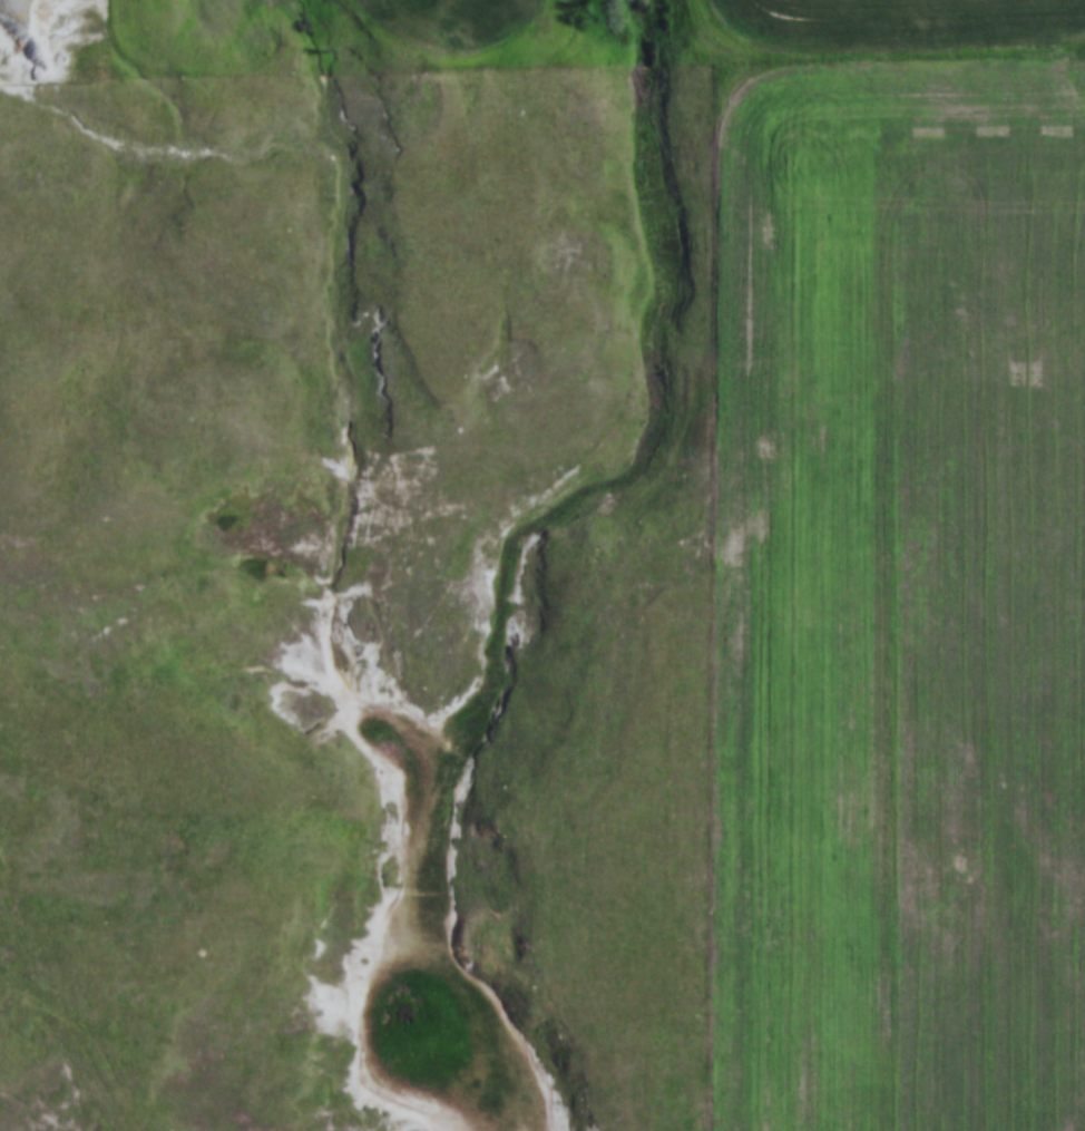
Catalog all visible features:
road: (63, 1024)
road: (69, 1069)

